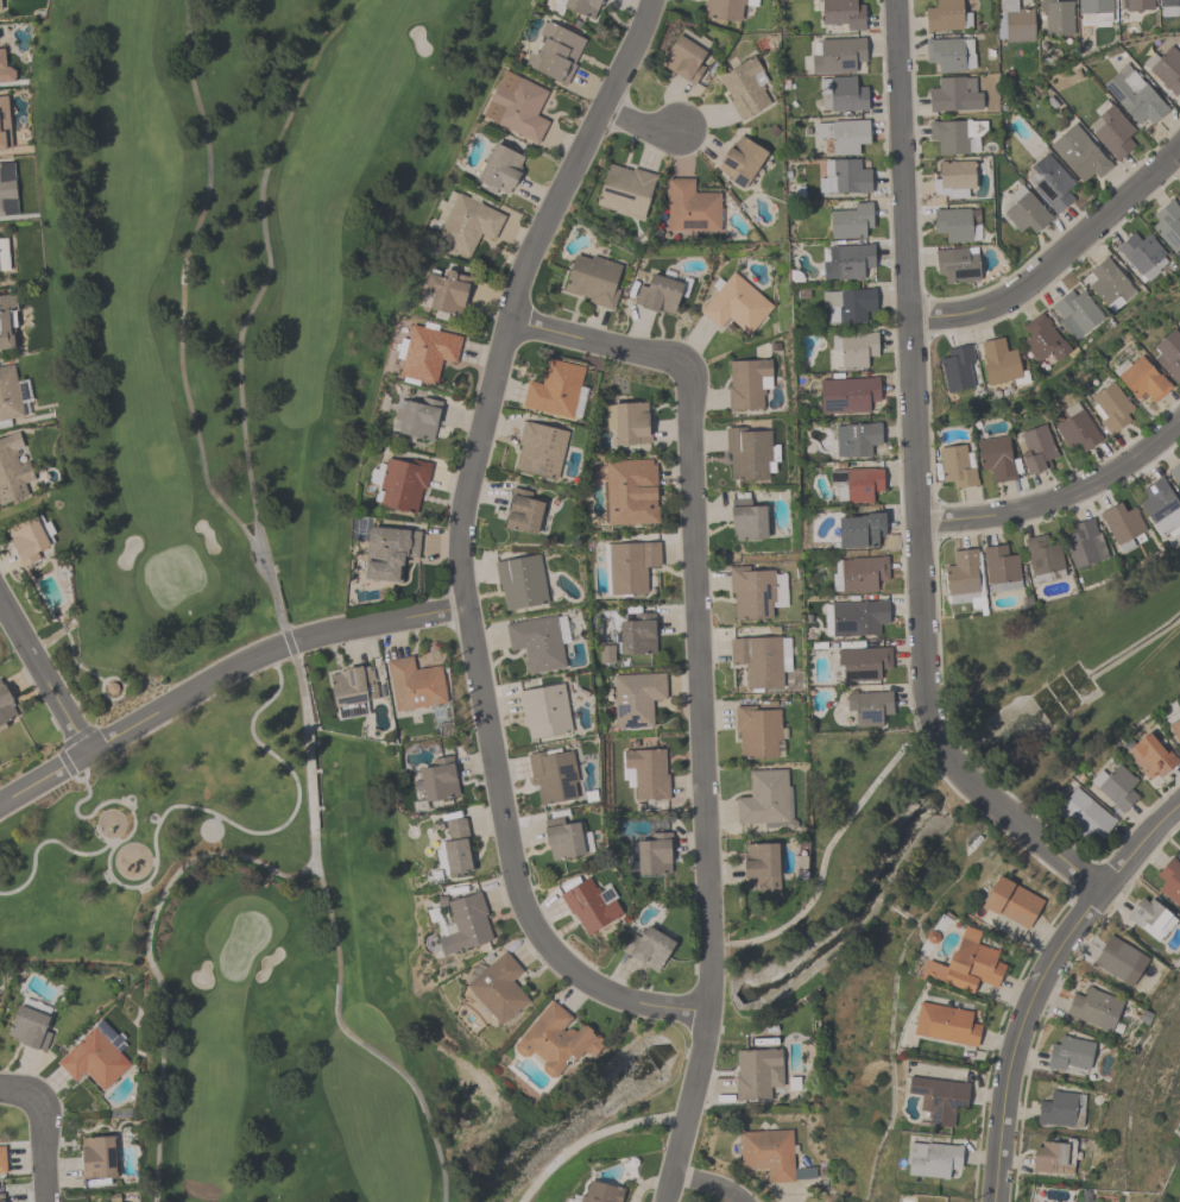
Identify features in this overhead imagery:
building: (1138, 5)
building: (576, 6)
building: (1, 7)
building: (1169, 7)
building: (725, 8)
building: (1096, 8)
building: (841, 13)
building: (946, 15)
building: (1056, 17)
building: (1014, 21)
building: (554, 52)
building: (949, 54)
building: (838, 55)
building: (683, 58)
building: (1165, 68)
building: (5, 69)
building: (744, 87)
building: (841, 94)
building: (954, 94)
building: (1134, 95)
building: (516, 106)
road: (638, 118)
building: (4, 124)
building: (1111, 131)
building: (843, 134)
building: (953, 134)
building: (1078, 153)
building: (740, 161)
building: (499, 169)
building: (843, 177)
building: (953, 178)
building: (1050, 183)
building: (7, 189)
building: (624, 190)
building: (690, 207)
building: (1022, 210)
building: (850, 221)
building: (466, 224)
building: (957, 224)
building: (1167, 224)
building: (1141, 253)
building: (4, 254)
road: (1056, 256)
building: (846, 262)
building: (955, 264)
building: (592, 279)
building: (1109, 284)
building: (446, 290)
road: (182, 291)
building: (657, 294)
building: (847, 303)
building: (734, 304)
building: (1075, 313)
building: (6, 320)
building: (1179, 321)
building: (1041, 339)
building: (852, 348)
building: (425, 352)
building: (1169, 354)
building: (999, 363)
building: (955, 369)
building: (1142, 379)
building: (747, 383)
building: (554, 389)
building: (8, 395)
building: (847, 395)
building: (1110, 407)
building: (416, 419)
building: (627, 422)
building: (1074, 427)
building: (856, 439)
building: (539, 448)
building: (1035, 448)
building: (750, 453)
building: (996, 458)
building: (957, 465)
building: (12, 468)
building: (1174, 471)
road: (917, 482)
building: (403, 483)
building: (856, 483)
building: (630, 491)
road: (1059, 495)
building: (1161, 506)
building: (522, 511)
building: (746, 520)
building: (1123, 526)
building: (859, 530)
park: (263, 536)
building: (26, 540)
building: (1084, 543)
road: (460, 549)
building: (387, 553)
building: (1043, 558)
building: (630, 566)
building: (1001, 568)
building: (862, 573)
building: (961, 575)
building: (520, 580)
building: (751, 592)
road: (695, 596)
road: (276, 605)
building: (854, 617)
building: (637, 634)
building: (538, 641)
building: (605, 654)
building: (761, 660)
building: (863, 662)
road: (44, 674)
park: (1062, 675)
road: (221, 679)
building: (414, 684)
building: (346, 691)
building: (636, 698)
building: (5, 706)
building: (867, 706)
building: (544, 710)
building: (1174, 730)
building: (757, 731)
building: (1150, 756)
building: (644, 773)
building: (553, 774)
building: (435, 779)
building: (1115, 786)
building: (765, 799)
building: (1084, 814)
park: (151, 826)
road: (248, 833)
building: (562, 839)
road: (126, 841)
building: (456, 847)
road: (1137, 849)
building: (654, 854)
building: (761, 867)
building: (1169, 880)
building: (1010, 901)
building: (589, 905)
building: (1150, 918)
building: (465, 924)
building: (930, 937)
building: (648, 948)
building: (1118, 959)
building: (966, 964)
building: (498, 987)
building: (1093, 1008)
building: (945, 1024)
building: (29, 1027)
road: (1014, 1036)
building: (555, 1040)
building: (1069, 1052)
building: (95, 1056)
building: (757, 1072)
building: (938, 1099)
road: (17, 1107)
road: (687, 1107)
building: (1058, 1110)
road: (591, 1135)
building: (770, 1154)
road: (38, 1157)
building: (96, 1157)
building: (1053, 1157)
building: (932, 1158)
building: (2, 1160)
road: (702, 1184)
building: (600, 1192)
building: (1, 1197)

